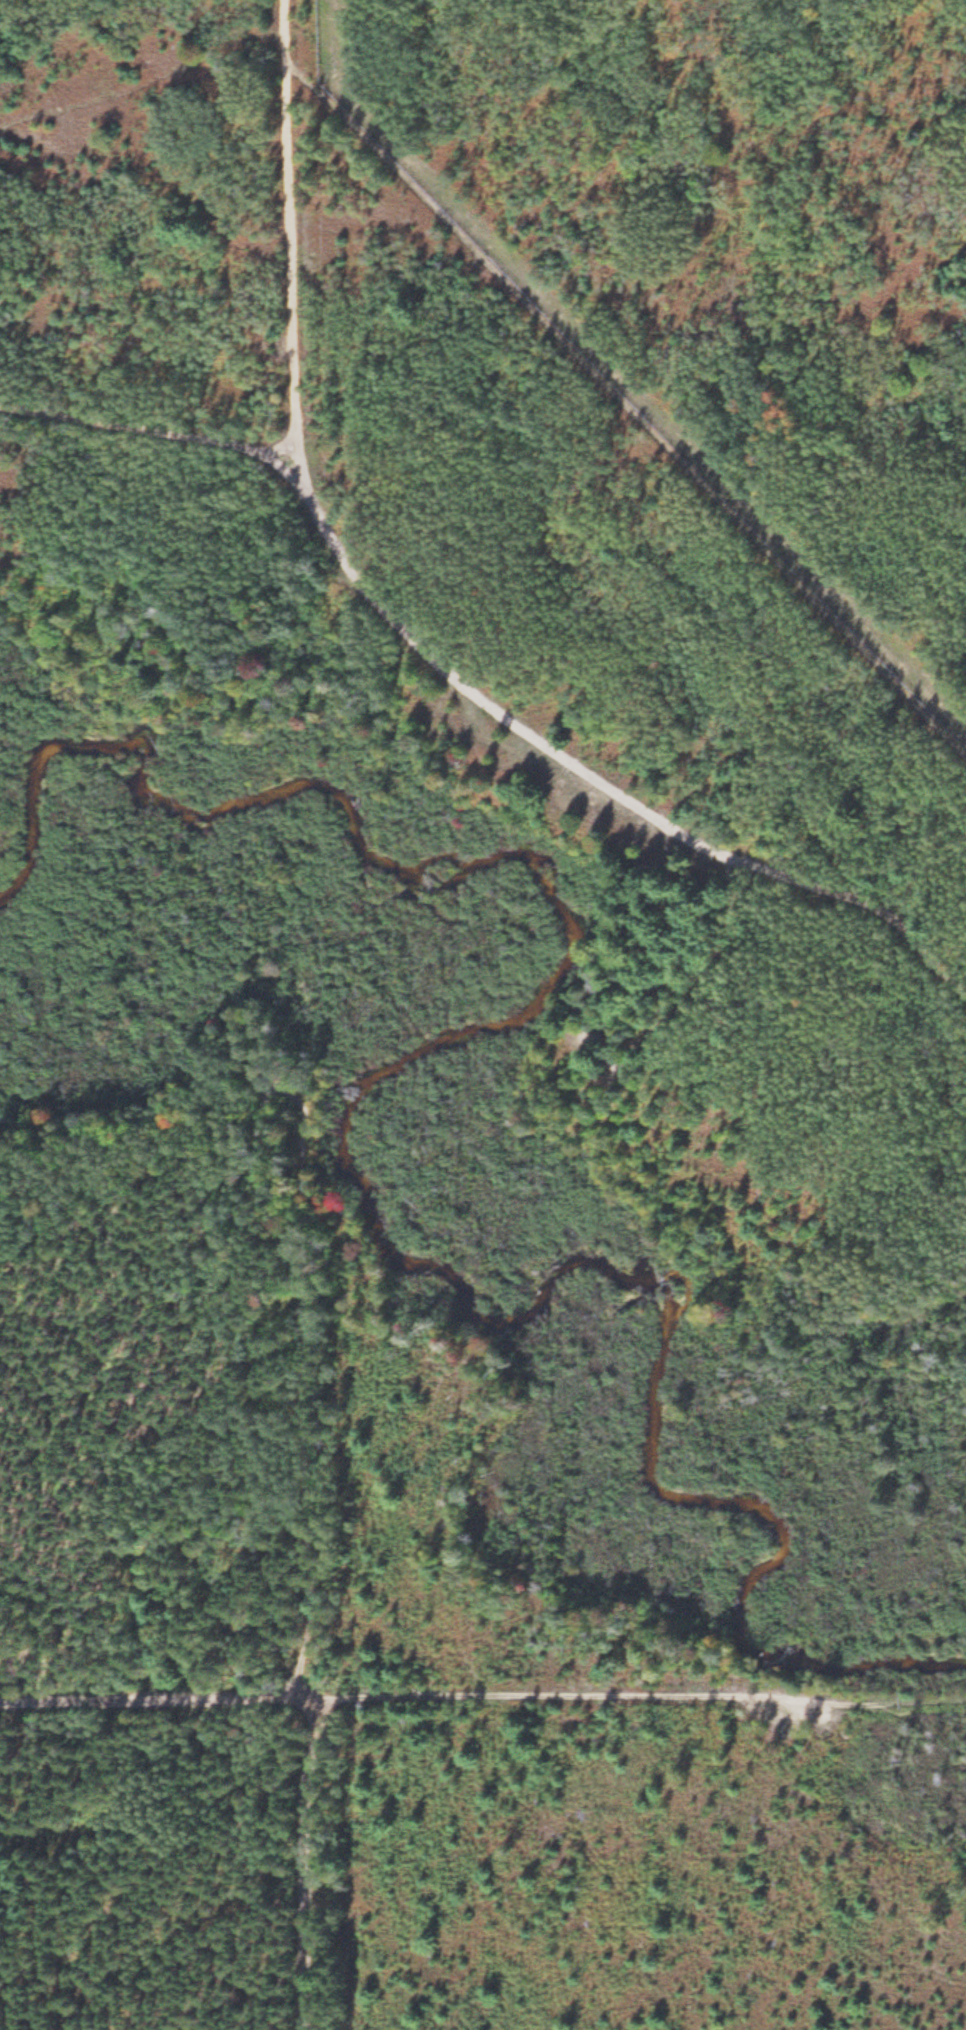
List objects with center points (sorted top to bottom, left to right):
road: (289, 231)
airport: (729, 251)
road: (150, 433)
road: (586, 783)
road: (271, 1088)
river: (341, 1138)
road: (309, 1590)
road: (616, 1698)
road: (156, 1703)
road: (943, 1705)

